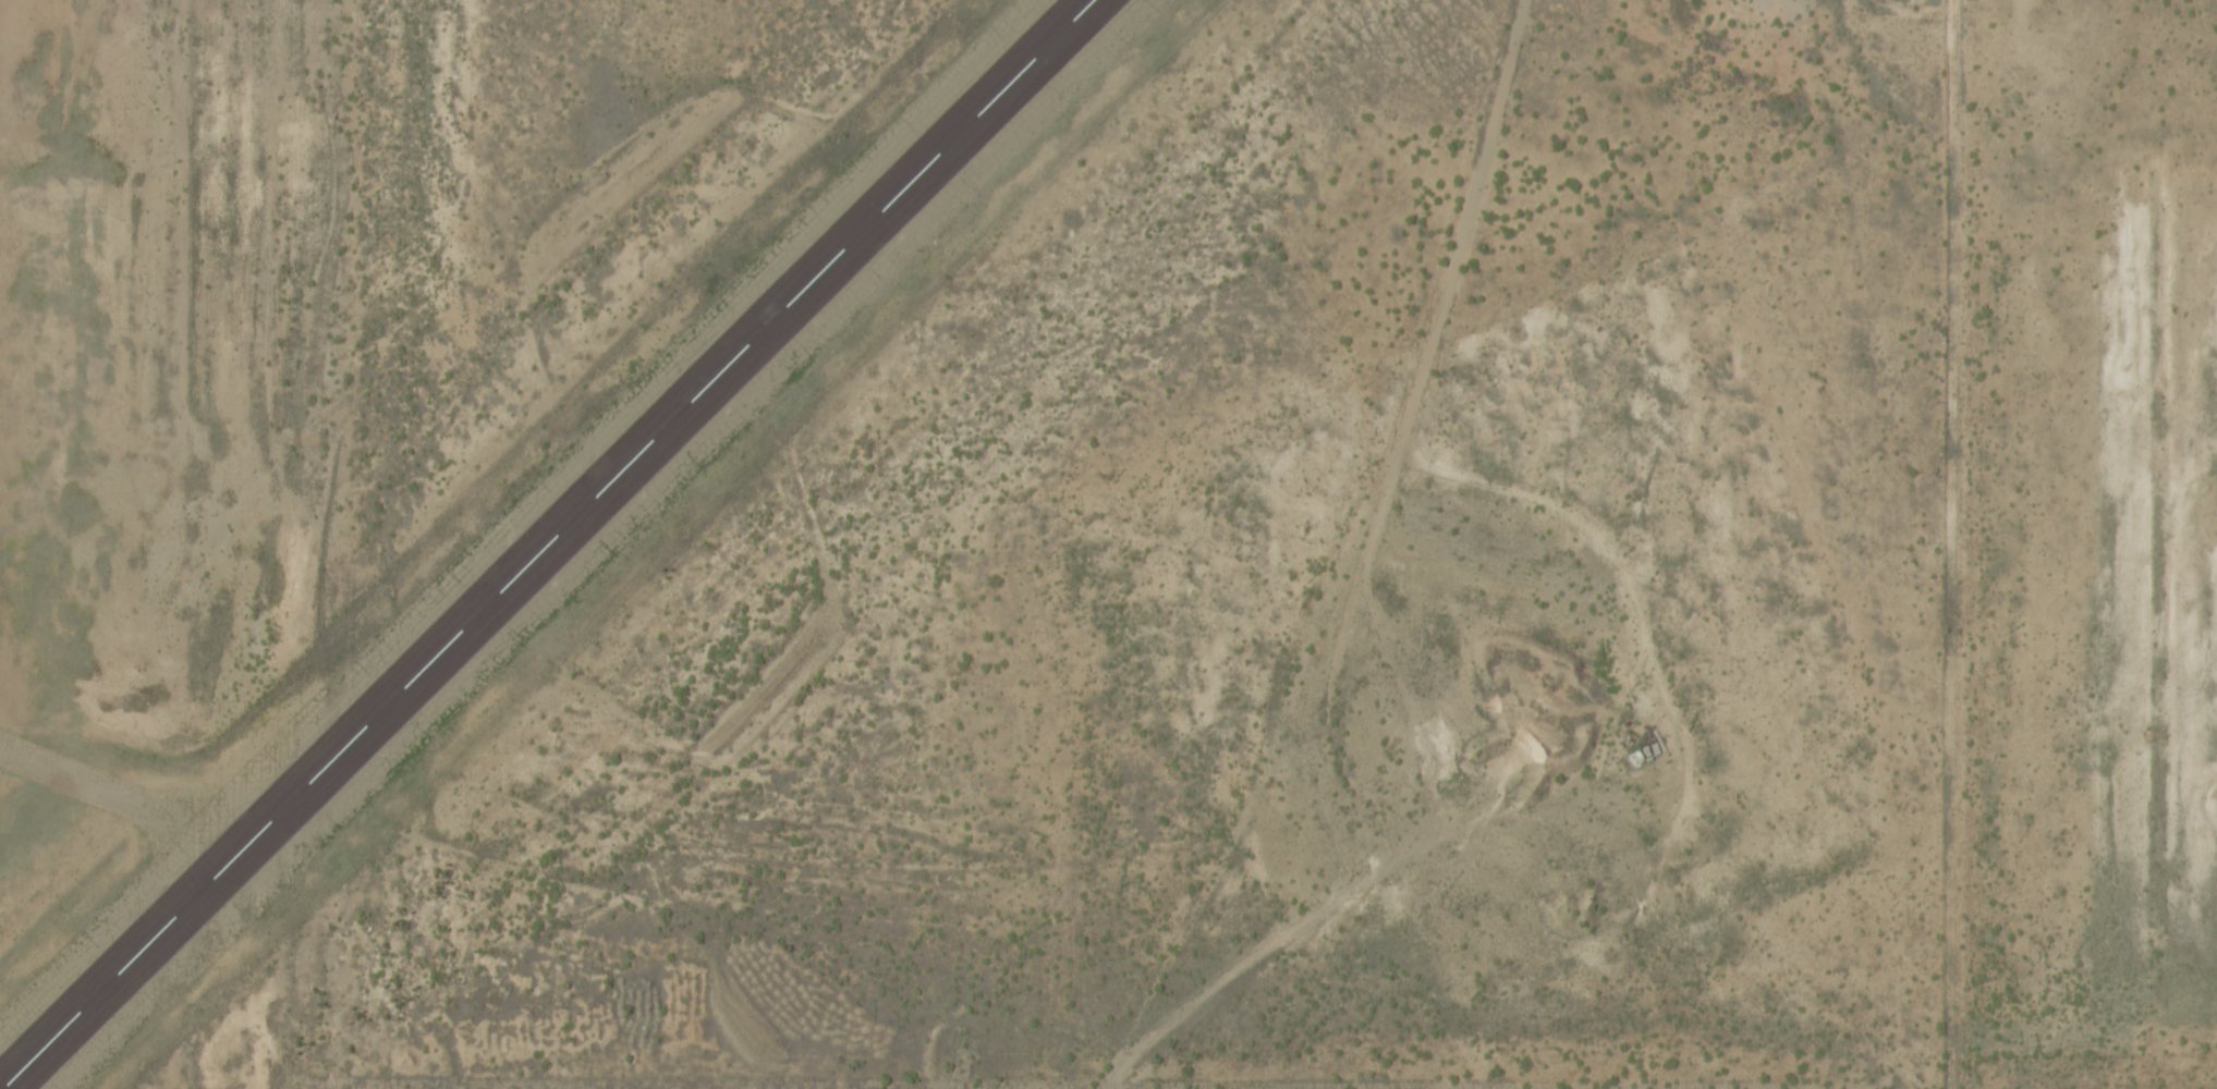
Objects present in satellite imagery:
airport runway: (544, 543)
airport taxiway: (122, 794)
road: (2210, 1088)

